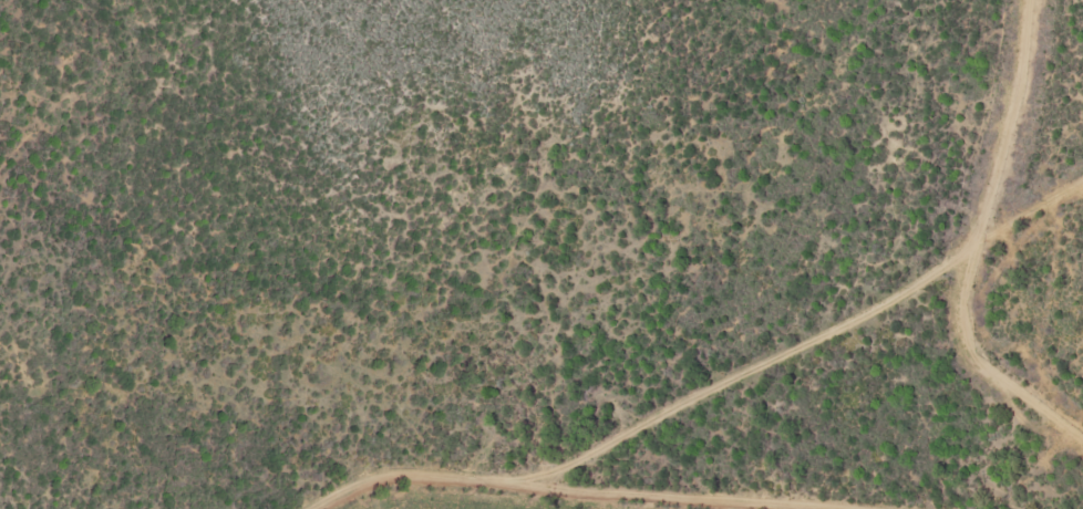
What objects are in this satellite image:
road: (971, 239)
road: (747, 368)
road: (570, 488)

